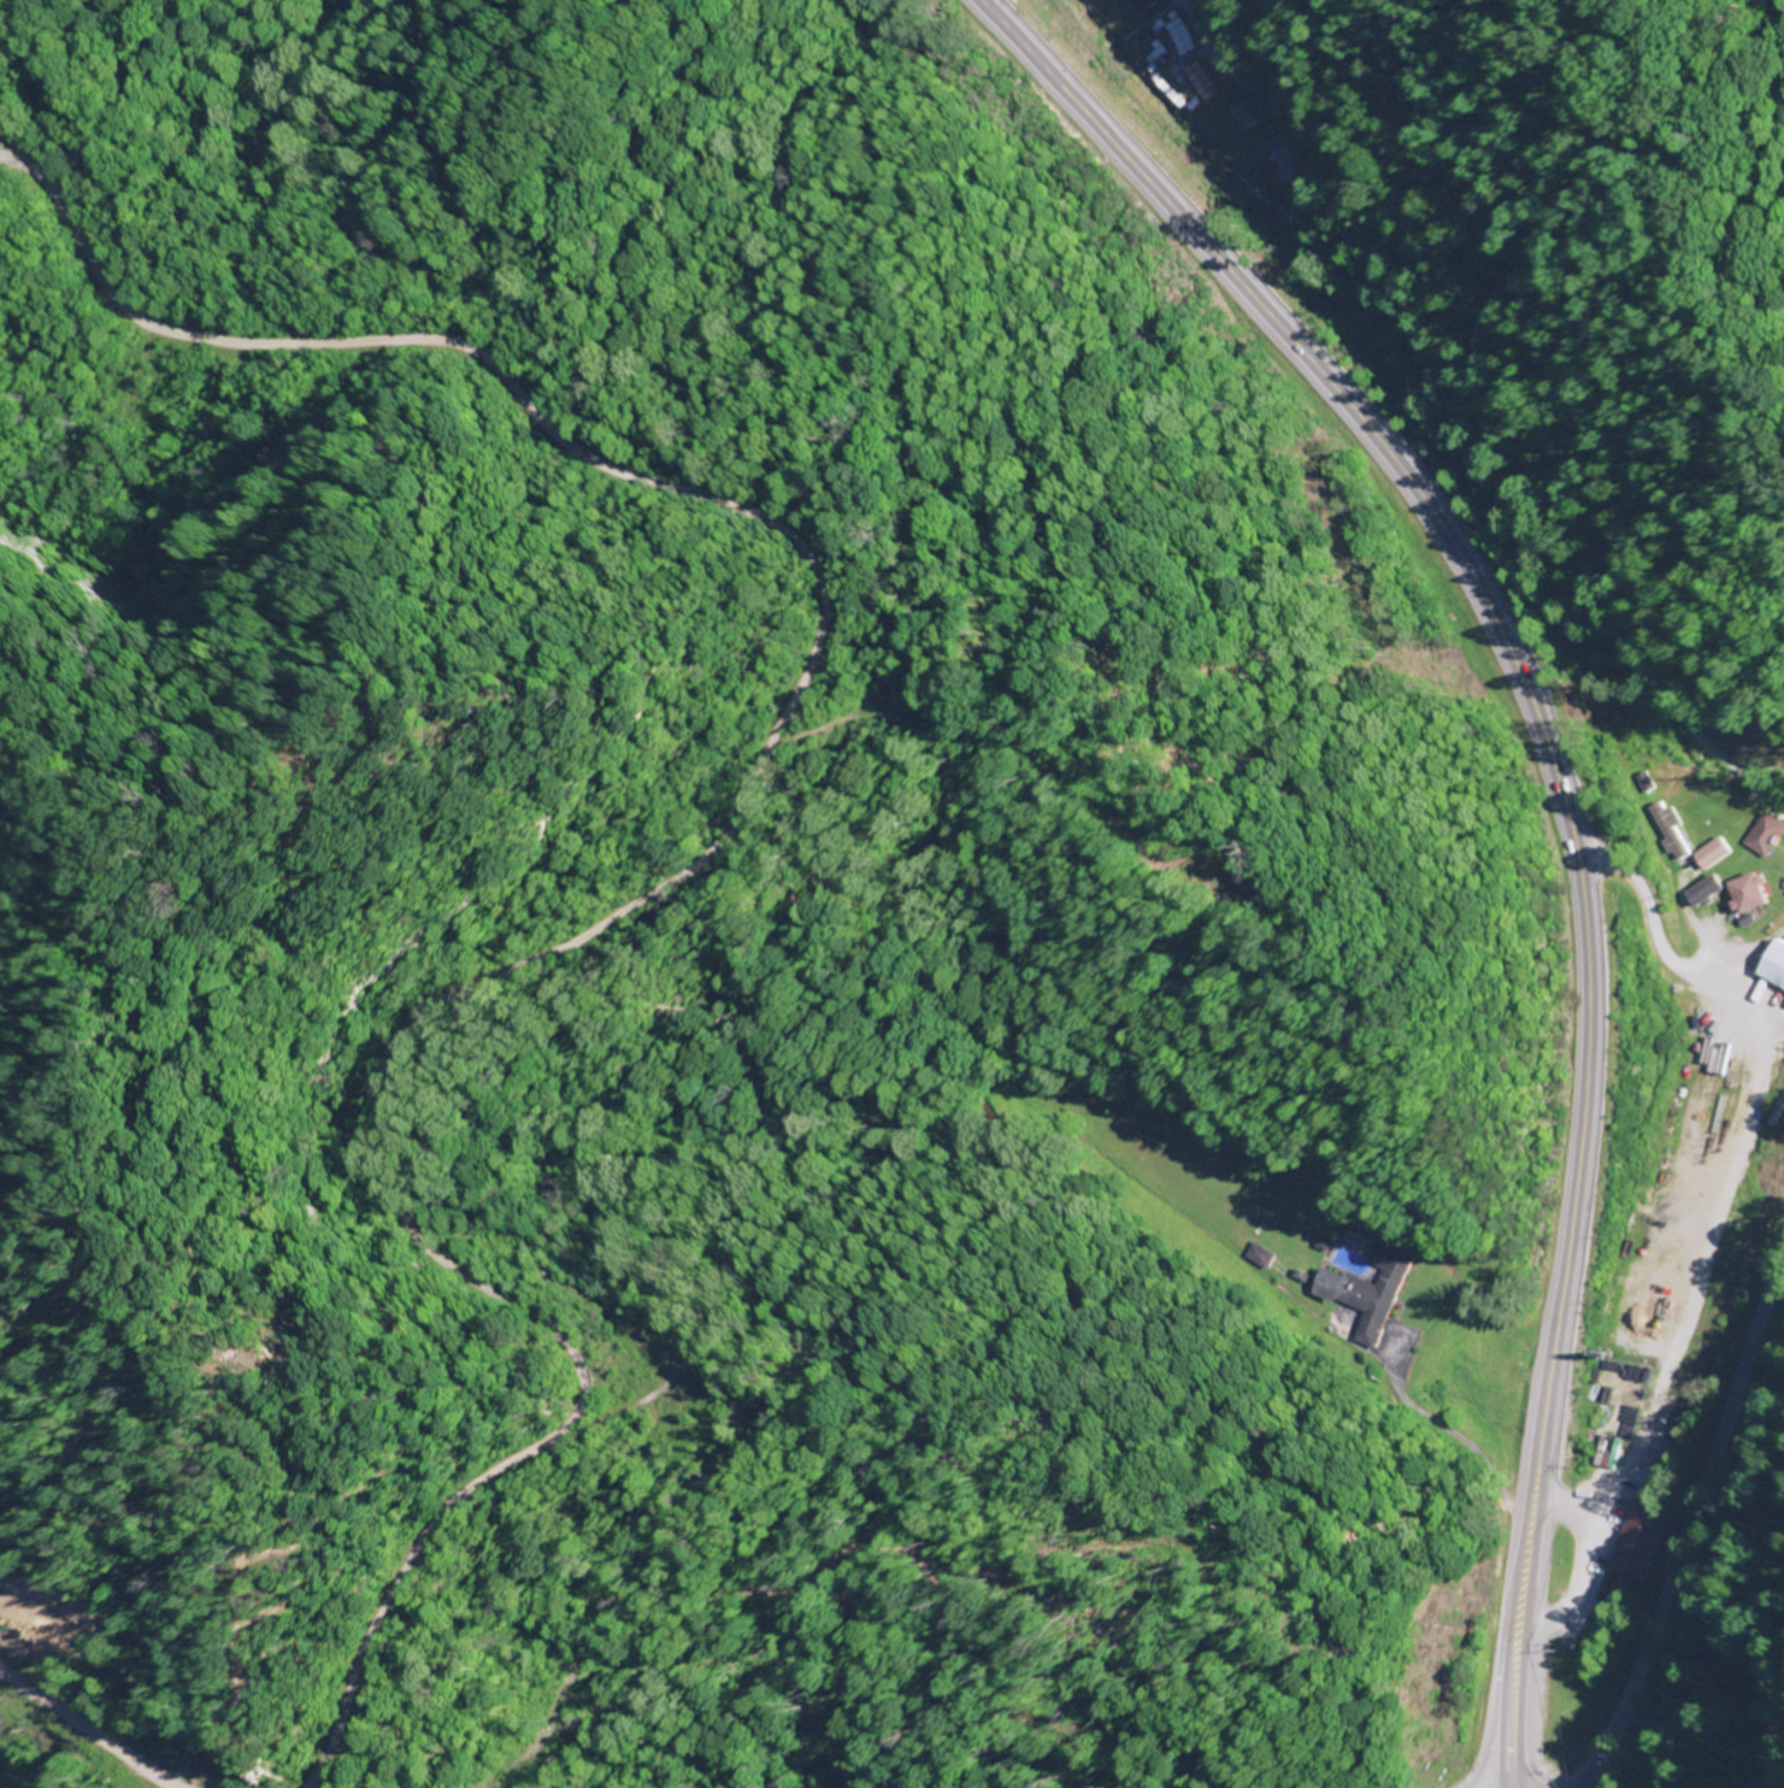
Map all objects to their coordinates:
building: (1148, 8)
road: (1184, 14)
building: (1243, 113)
road: (1561, 798)
building: (1765, 835)
building: (1713, 852)
building: (1706, 889)
building: (1749, 893)
road: (1649, 913)
building: (1773, 966)
road: (1688, 1521)

